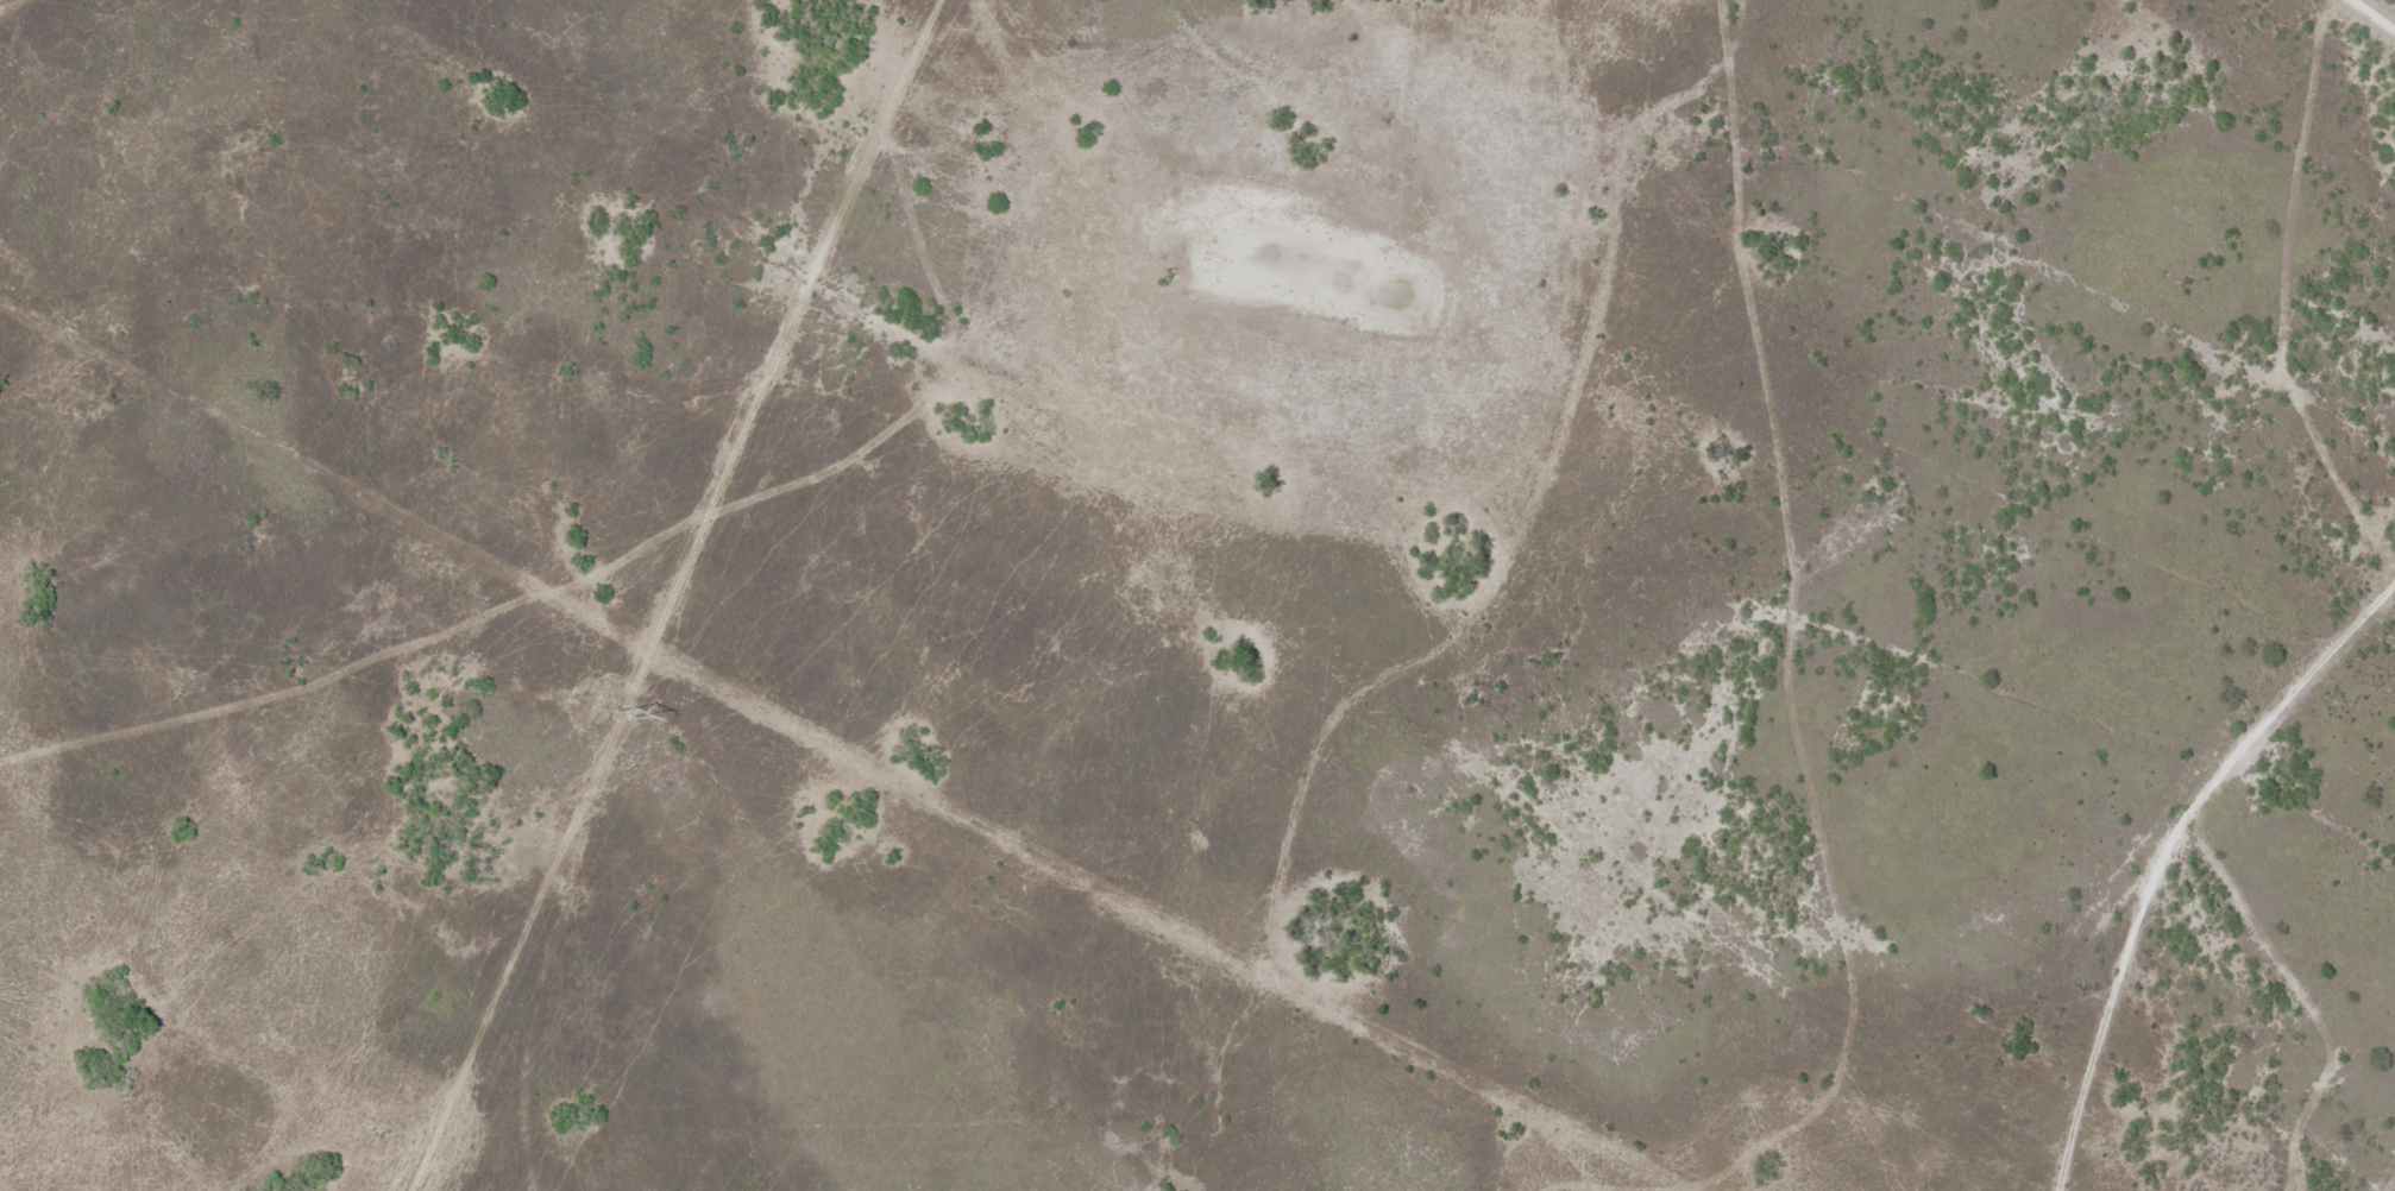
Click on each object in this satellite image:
road: (2371, 15)
road: (1398, 115)
road: (406, 504)
power tower: (623, 719)

